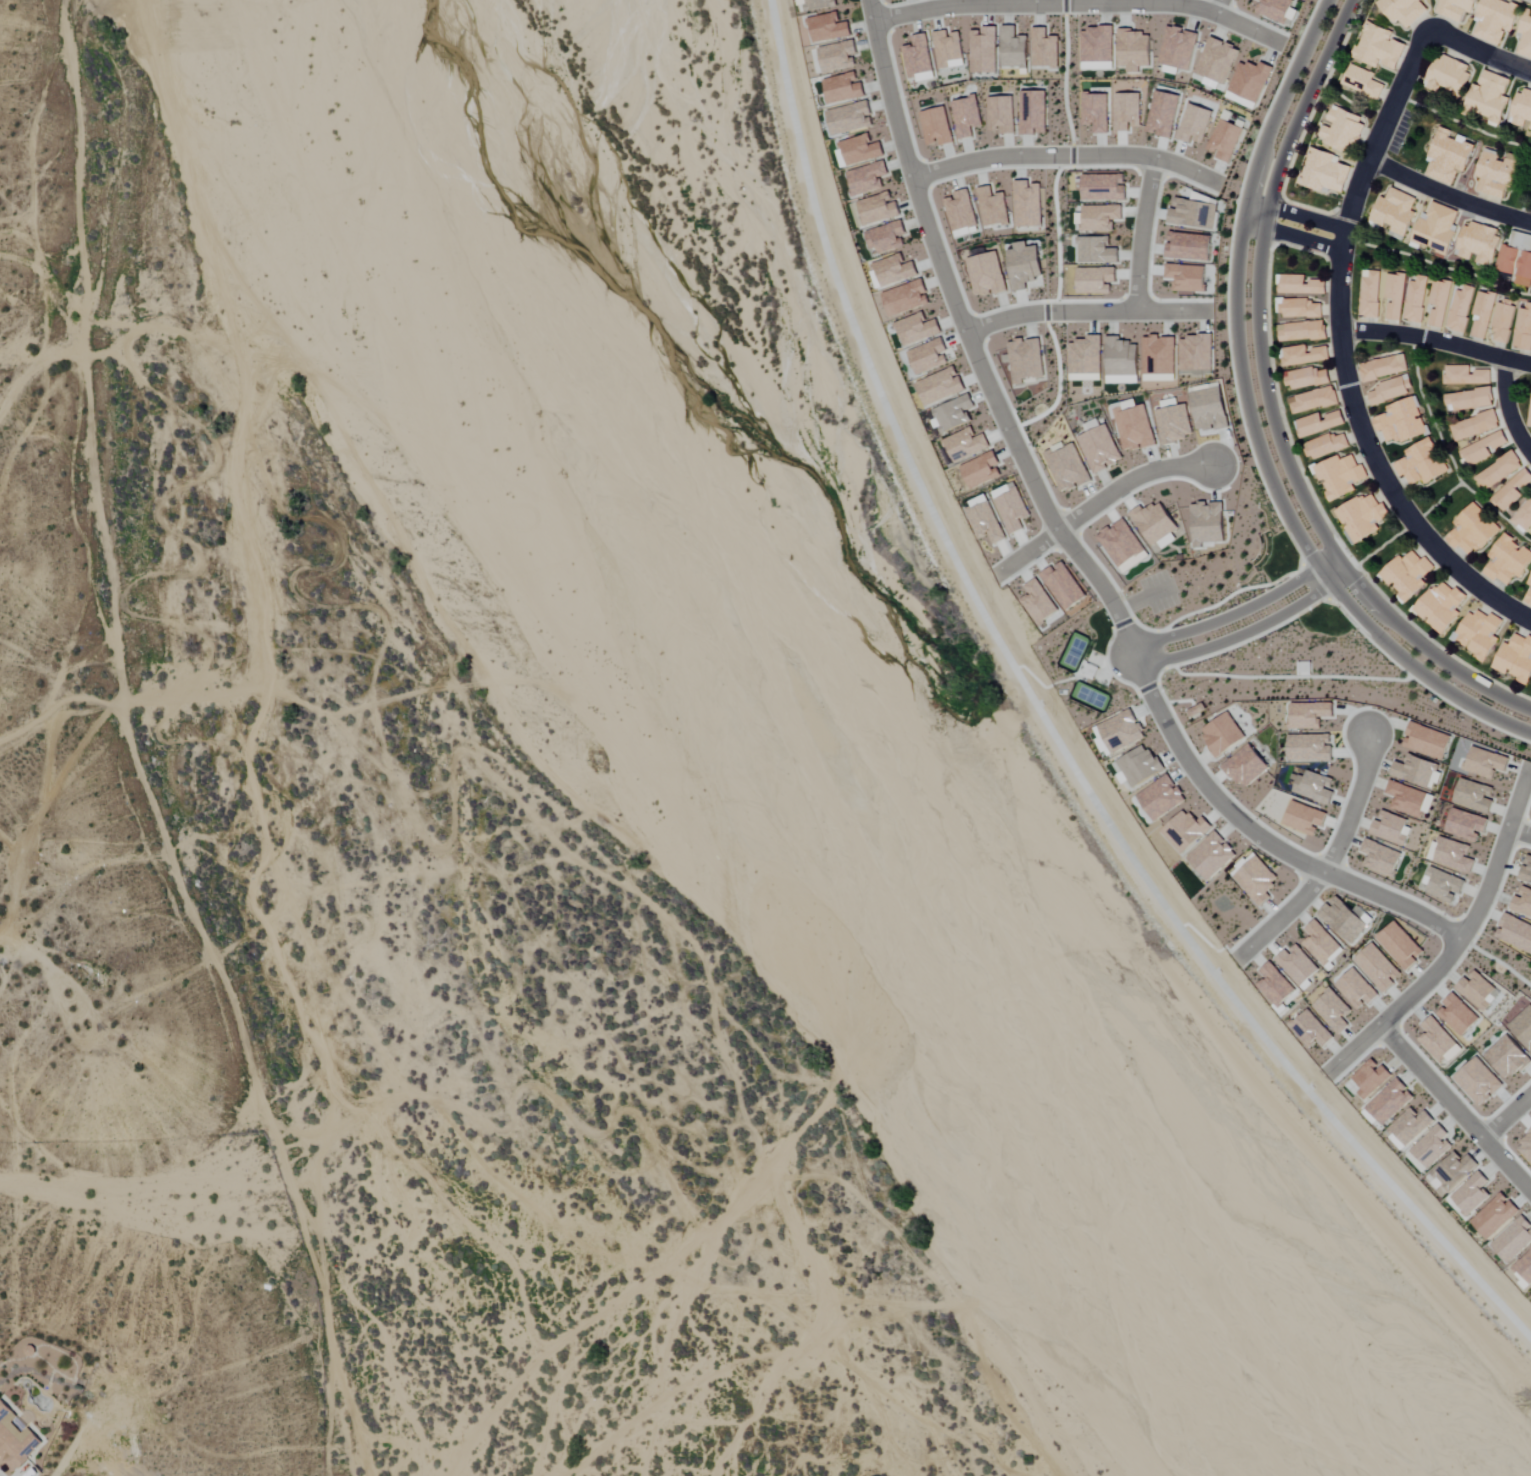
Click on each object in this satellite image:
road: (1076, 2)
building: (818, 4)
building: (1456, 8)
road: (1223, 9)
building: (1275, 9)
building: (1405, 11)
building: (1496, 19)
building: (828, 27)
building: (1526, 36)
building: (1097, 45)
building: (1380, 47)
building: (1013, 48)
building: (1044, 48)
building: (1177, 48)
building: (948, 49)
building: (984, 50)
building: (1134, 50)
road: (1479, 52)
building: (838, 56)
building: (919, 58)
building: (1217, 60)
building: (1448, 75)
building: (1250, 80)
building: (1363, 82)
building: (843, 88)
building: (1490, 95)
building: (1522, 110)
building: (1096, 111)
building: (1127, 111)
building: (1033, 112)
building: (1001, 114)
building: (1163, 114)
building: (966, 116)
building: (850, 118)
building: (1194, 124)
building: (936, 126)
building: (1342, 129)
building: (1225, 140)
building: (861, 149)
road: (1062, 154)
building: (1449, 156)
building: (1324, 171)
building: (1498, 173)
building: (867, 178)
building: (1104, 186)
road: (1447, 195)
building: (1028, 204)
building: (993, 207)
building: (878, 208)
building: (1395, 212)
building: (961, 213)
building: (1193, 213)
road: (1298, 213)
building: (1100, 217)
building: (1436, 230)
road: (1142, 234)
building: (886, 237)
road: (1293, 237)
building: (1478, 243)
building: (1189, 245)
building: (1097, 250)
building: (1516, 264)
building: (1024, 265)
building: (894, 270)
road: (933, 274)
building: (987, 274)
building: (1187, 277)
building: (1095, 280)
building: (1301, 285)
building: (1370, 294)
building: (1395, 295)
building: (906, 298)
building: (1416, 299)
building: (1439, 301)
building: (1298, 308)
building: (1461, 309)
road: (1082, 313)
building: (1482, 314)
building: (1503, 319)
building: (1523, 328)
building: (917, 329)
building: (1303, 331)
road: (1436, 340)
building: (1196, 352)
building: (1304, 355)
building: (1085, 356)
building: (1158, 356)
road: (1343, 356)
building: (929, 357)
building: (1026, 359)
building: (1121, 360)
building: (1383, 367)
building: (1466, 375)
building: (1307, 378)
building: (940, 386)
building: (1391, 390)
building: (1469, 399)
building: (1314, 400)
road: (1269, 402)
road: (1507, 406)
building: (1210, 409)
building: (954, 413)
building: (1530, 415)
road: (1251, 420)
building: (1400, 422)
building: (1175, 423)
building: (1320, 423)
building: (1474, 426)
building: (1135, 428)
building: (965, 444)
building: (1326, 445)
building: (1485, 447)
building: (1100, 449)
building: (1421, 463)
building: (1068, 468)
building: (981, 470)
building: (1498, 471)
building: (1340, 476)
building: (1513, 489)
road: (1103, 502)
building: (1013, 510)
building: (1524, 516)
building: (1363, 517)
building: (985, 523)
building: (1207, 524)
building: (1156, 525)
building: (1472, 531)
building: (1121, 543)
building: (1508, 561)
building: (1407, 575)
building: (1530, 583)
building: (1063, 585)
building: (1529, 597)
building: (1038, 602)
building: (1441, 607)
road: (1228, 616)
building: (1479, 634)
road: (1238, 635)
building: (1516, 659)
road: (1076, 675)
building: (1309, 715)
road: (1047, 726)
building: (1121, 732)
building: (1223, 735)
building: (1427, 741)
building: (1310, 748)
road: (141, 752)
building: (1486, 763)
building: (1139, 766)
building: (1246, 766)
building: (1418, 772)
river: (835, 785)
building: (1315, 788)
road: (1203, 790)
building: (1475, 796)
building: (1160, 798)
building: (1407, 799)
building: (1305, 818)
building: (1466, 825)
building: (1391, 828)
building: (1185, 831)
road: (1520, 831)
road: (1330, 852)
building: (1211, 856)
building: (1454, 856)
building: (1380, 858)
building: (1526, 872)
building: (1257, 880)
building: (1443, 885)
building: (1522, 903)
building: (1344, 920)
building: (1515, 933)
road: (1464, 936)
building: (1320, 943)
building: (1401, 946)
building: (1297, 966)
building: (1377, 968)
building: (1275, 985)
building: (1357, 990)
building: (1478, 991)
building: (1333, 1011)
building: (1458, 1015)
building: (1523, 1027)
building: (1310, 1031)
building: (1436, 1040)
building: (1508, 1058)
building: (1371, 1079)
building: (1479, 1082)
building: (1389, 1102)
road: (1458, 1107)
road: (1507, 1114)
building: (1410, 1126)
building: (1432, 1147)
building: (1526, 1147)
building: (1455, 1170)
building: (1471, 1194)
building: (1495, 1216)
building: (1513, 1240)
building: (1525, 1268)
building: (15, 1439)

